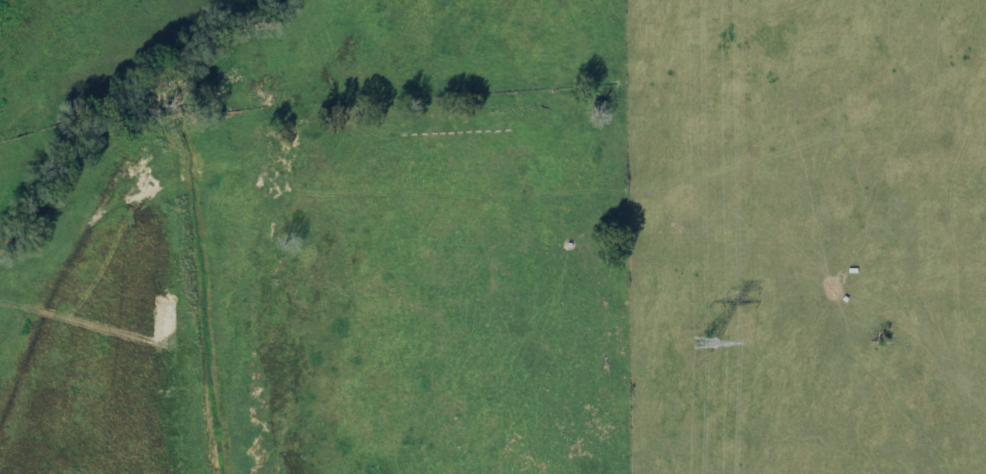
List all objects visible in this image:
power tower: (705, 342)

